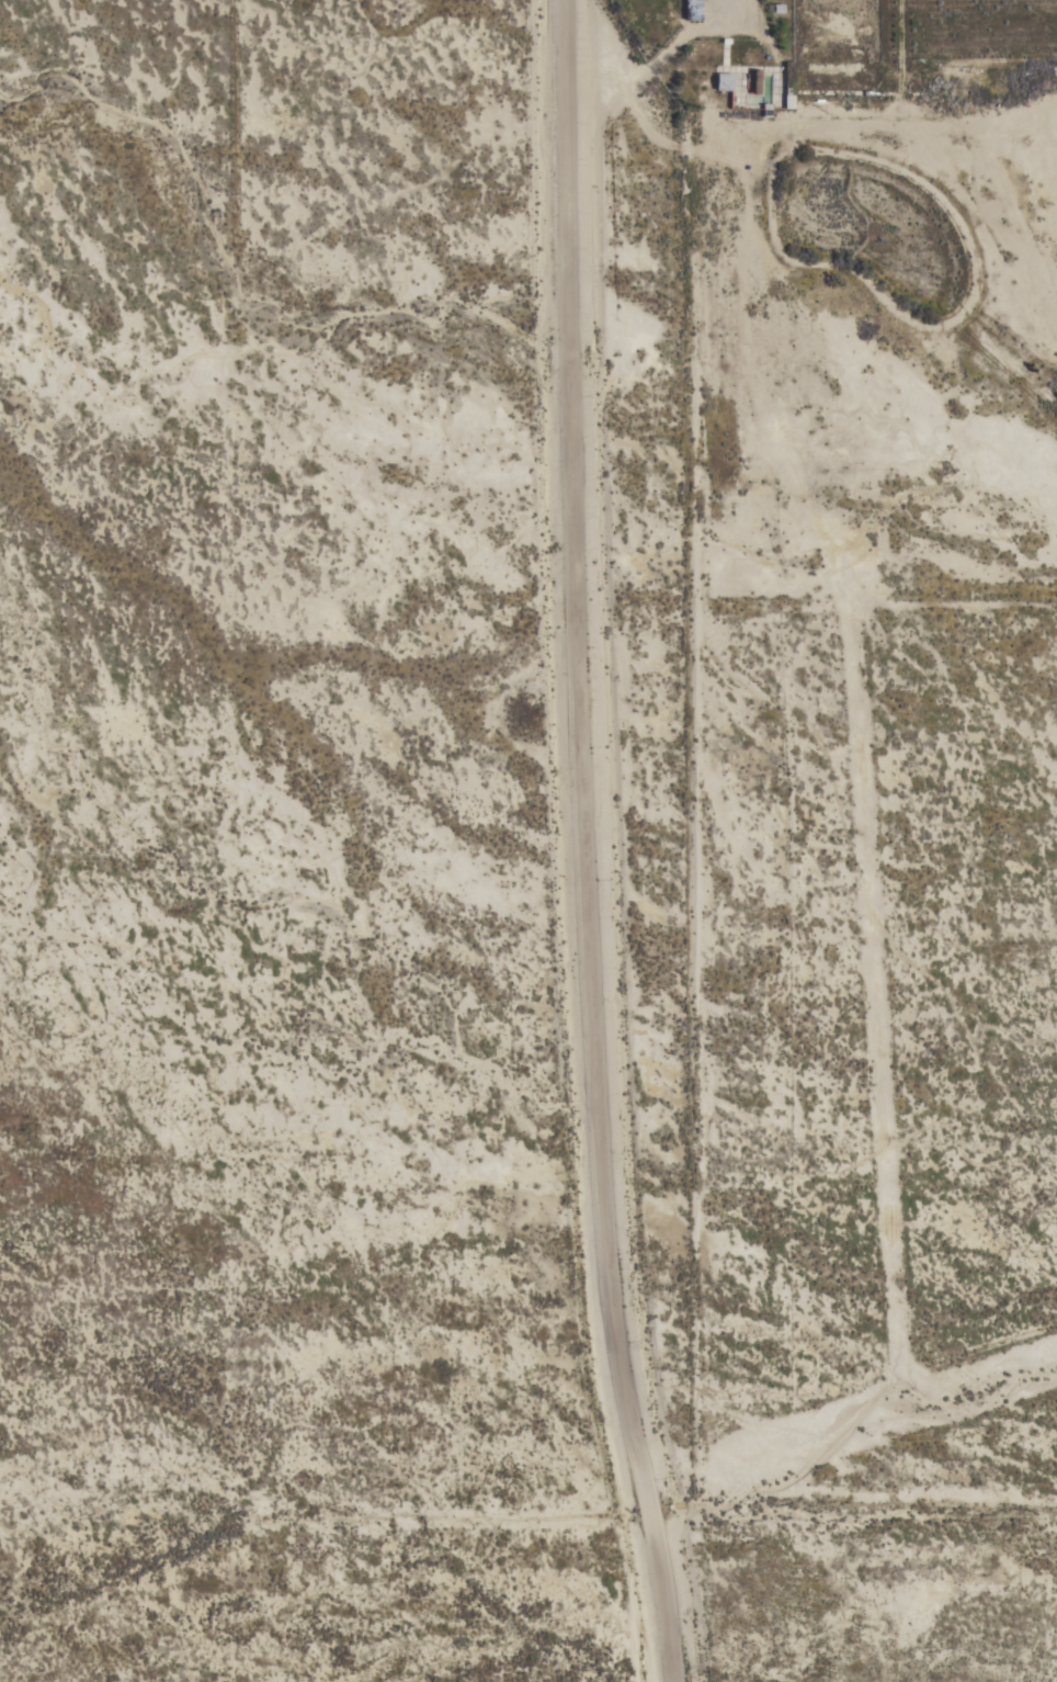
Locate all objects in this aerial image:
building: (693, 10)
building: (757, 80)
building: (724, 81)
building: (788, 86)
building: (1050, 204)
building: (1048, 213)
road: (586, 844)
airport taxiway: (874, 985)
airport runway: (894, 1415)
airport taxiway: (900, 1488)

